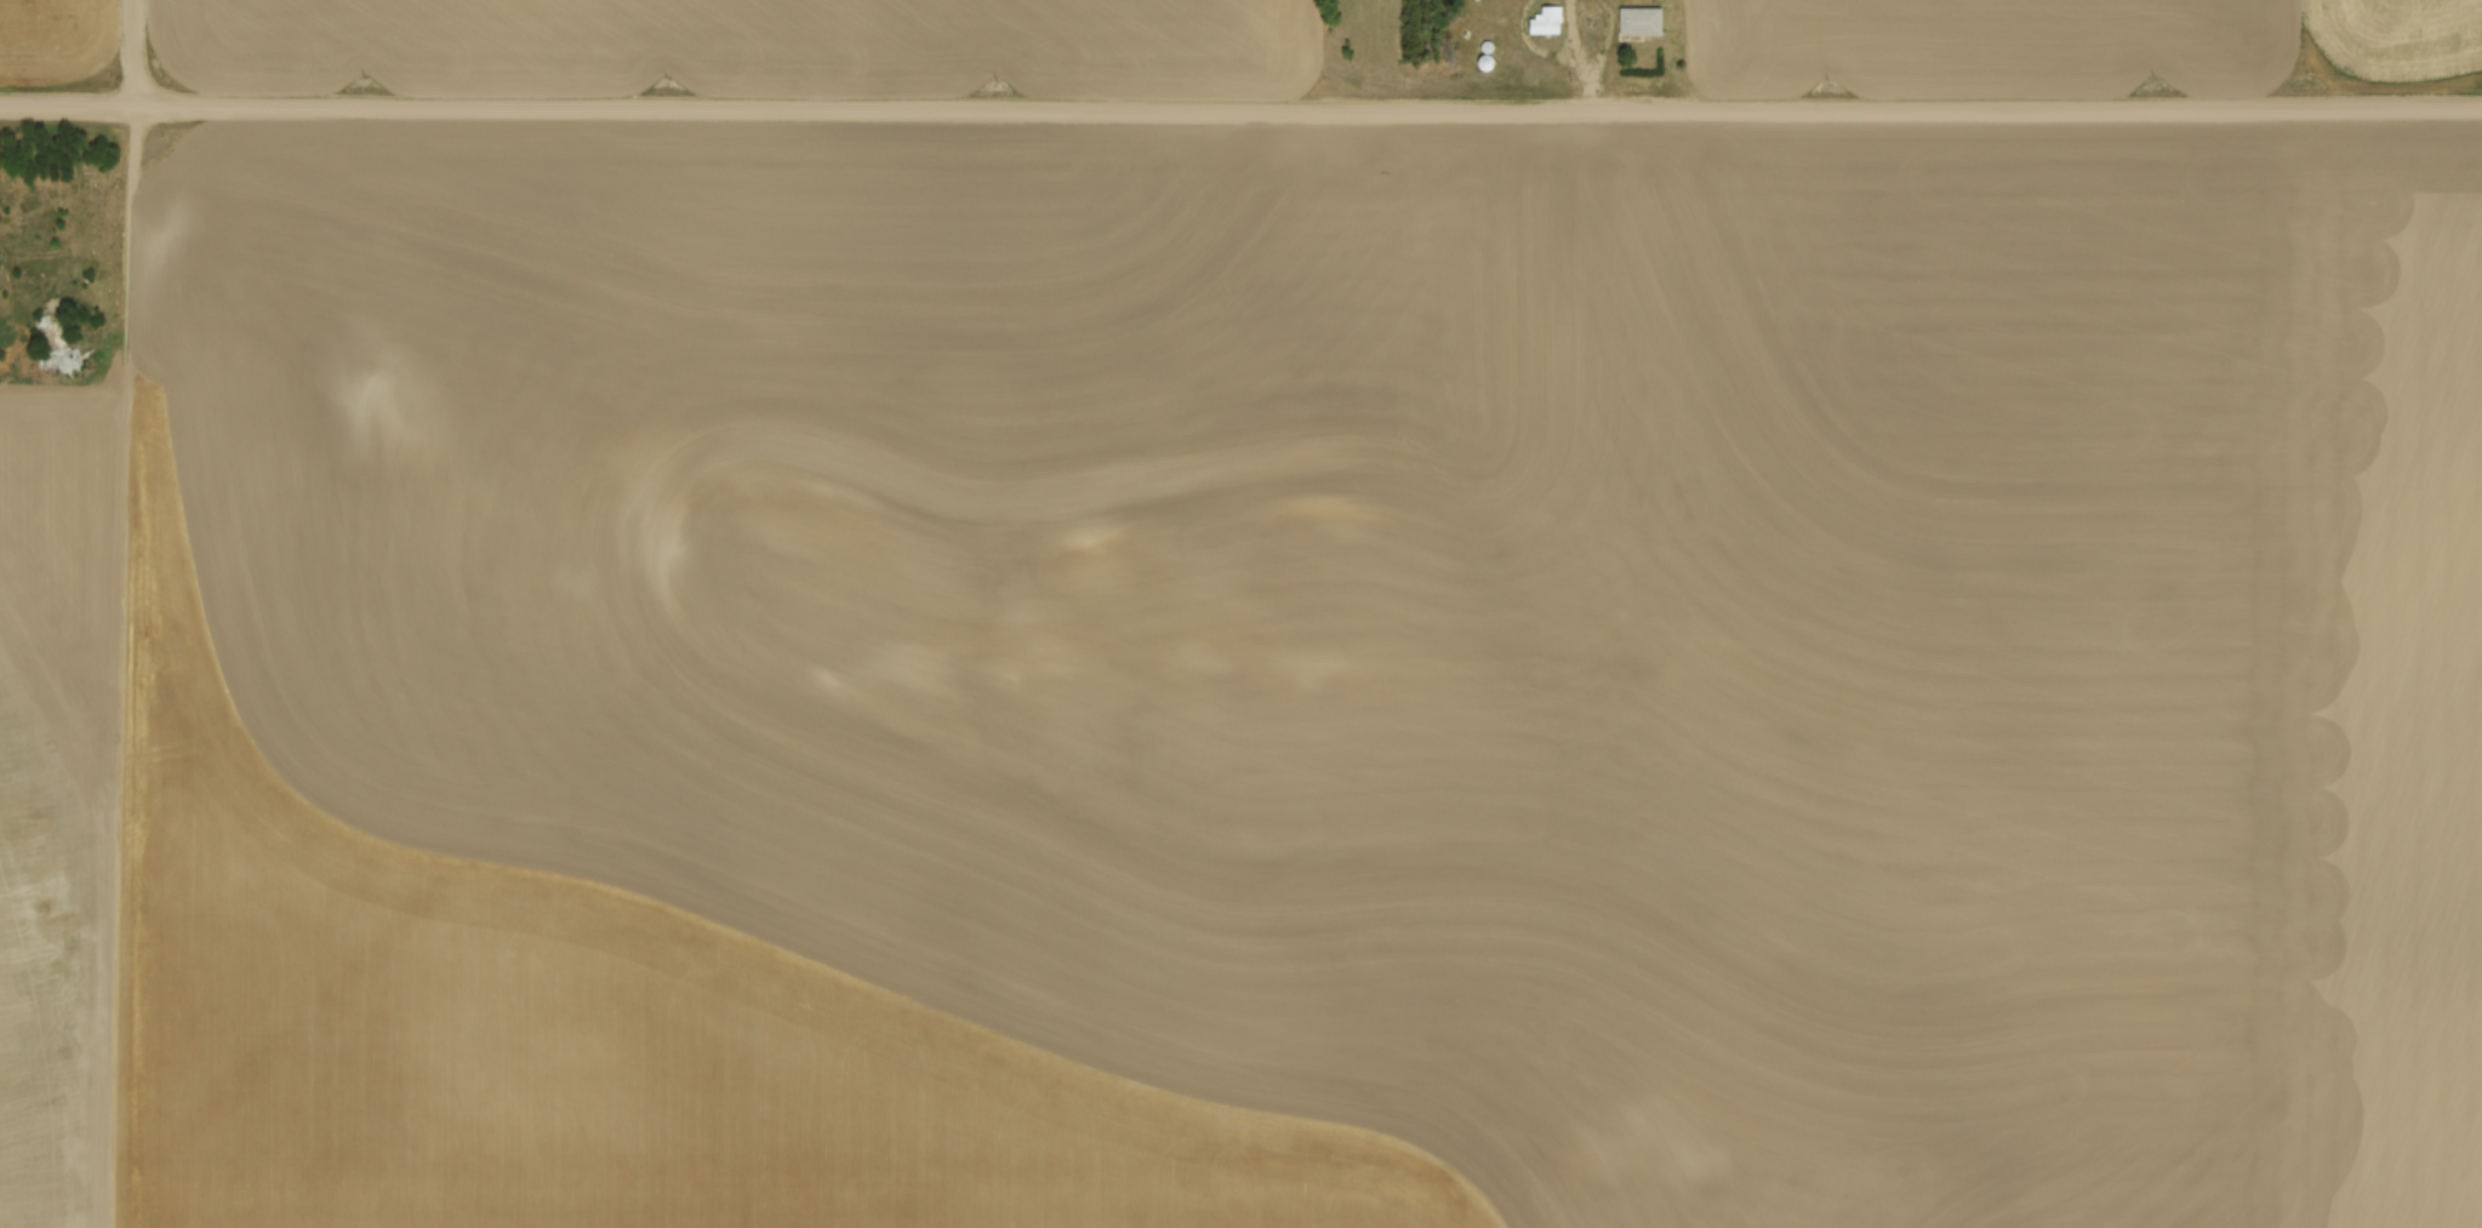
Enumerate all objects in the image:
road: (1517, 8)
building: (1550, 19)
building: (1642, 21)
road: (1607, 34)
crop: (56, 39)
crop: (2093, 39)
silo: (1490, 45)
crop: (747, 46)
road: (1530, 47)
road: (136, 52)
road: (1584, 56)
silo: (1489, 61)
road: (1240, 109)
building: (56, 342)
crop: (1256, 682)

